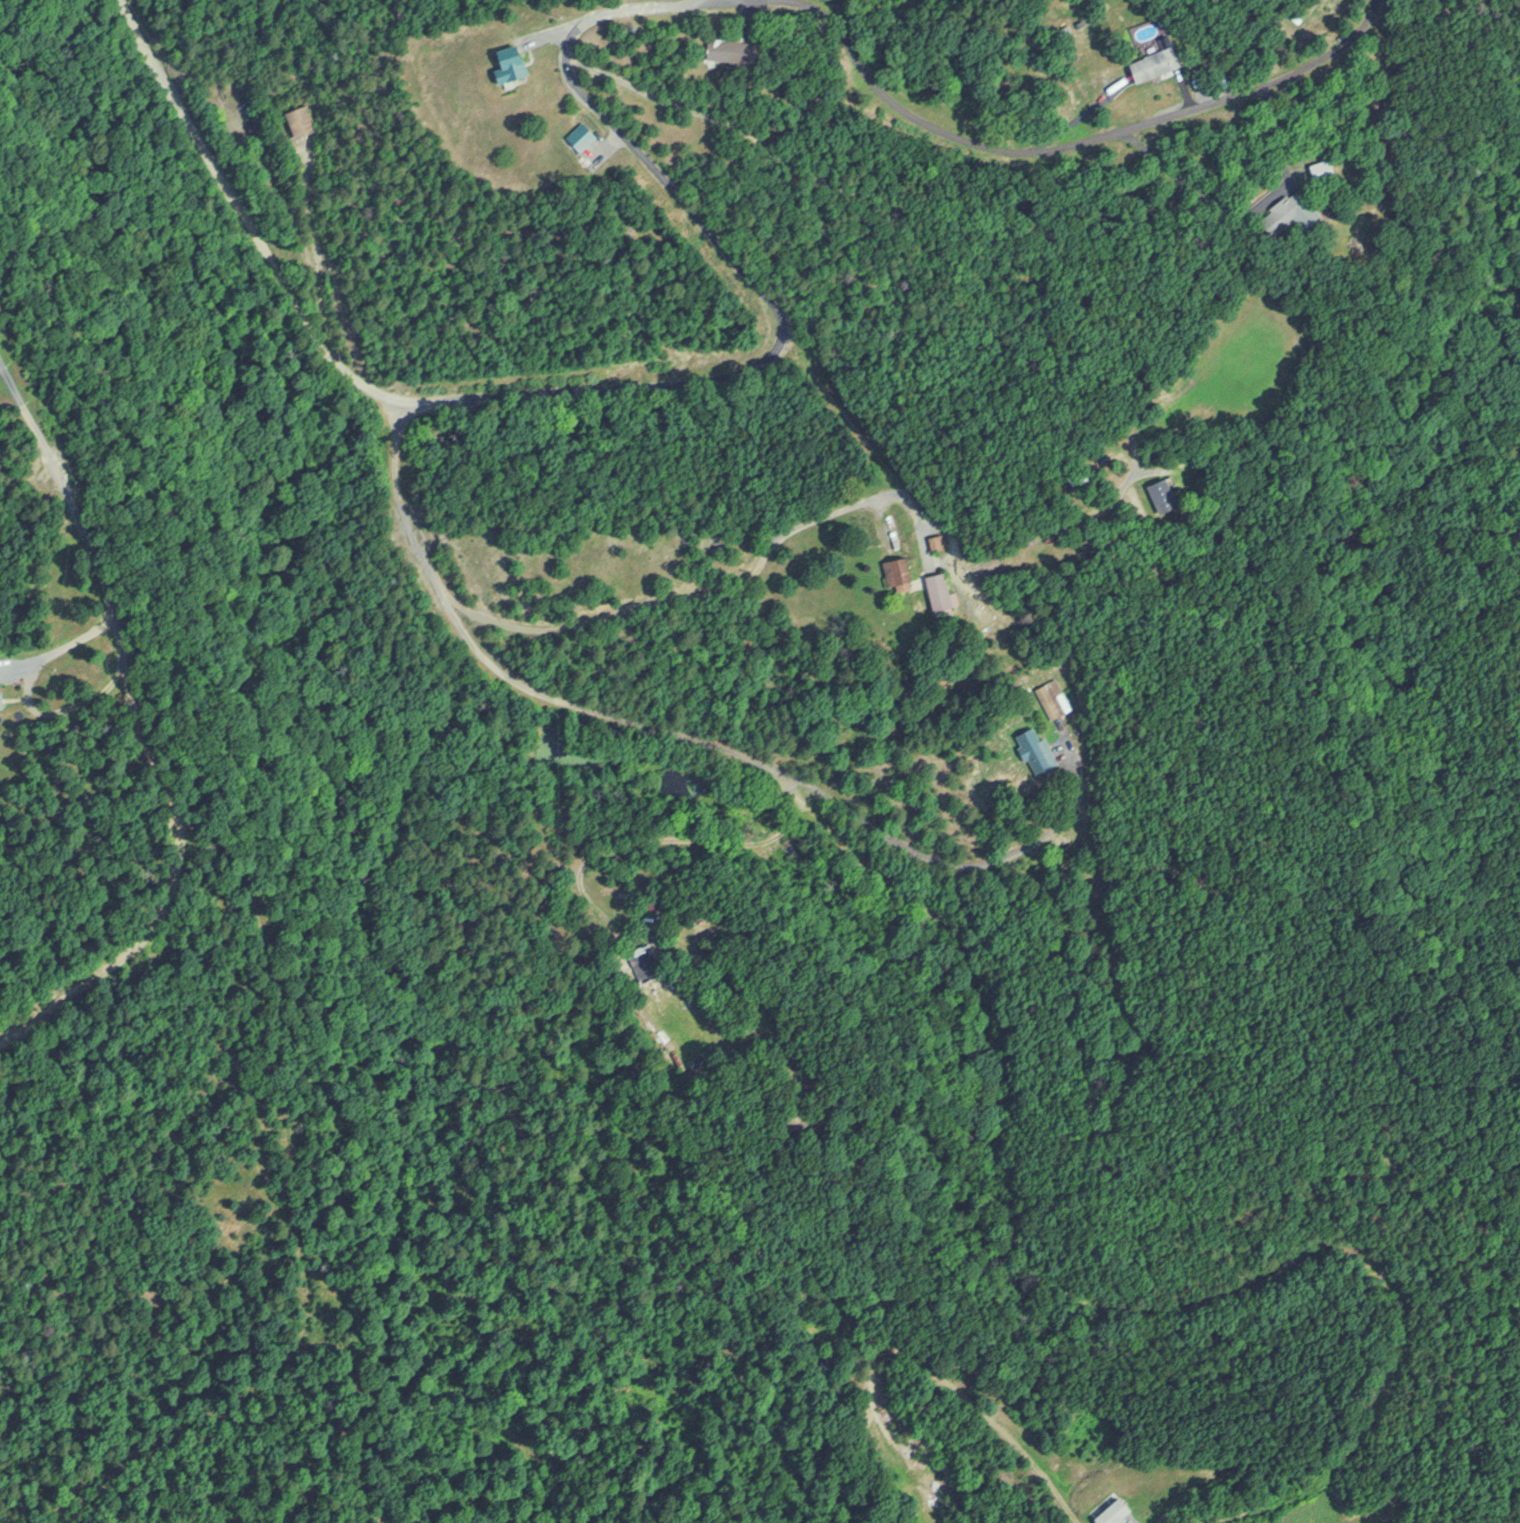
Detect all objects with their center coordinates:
building: (726, 48)
building: (1157, 61)
building: (512, 63)
building: (301, 120)
building: (589, 142)
road: (1050, 142)
building: (1324, 170)
building: (1291, 212)
road: (609, 386)
building: (1163, 493)
road: (83, 526)
building: (936, 542)
building: (899, 572)
building: (942, 596)
park: (1468, 661)
building: (0, 685)
building: (1053, 697)
building: (1036, 749)
road: (244, 884)
building: (642, 961)
road: (982, 1058)
building: (1114, 1511)

